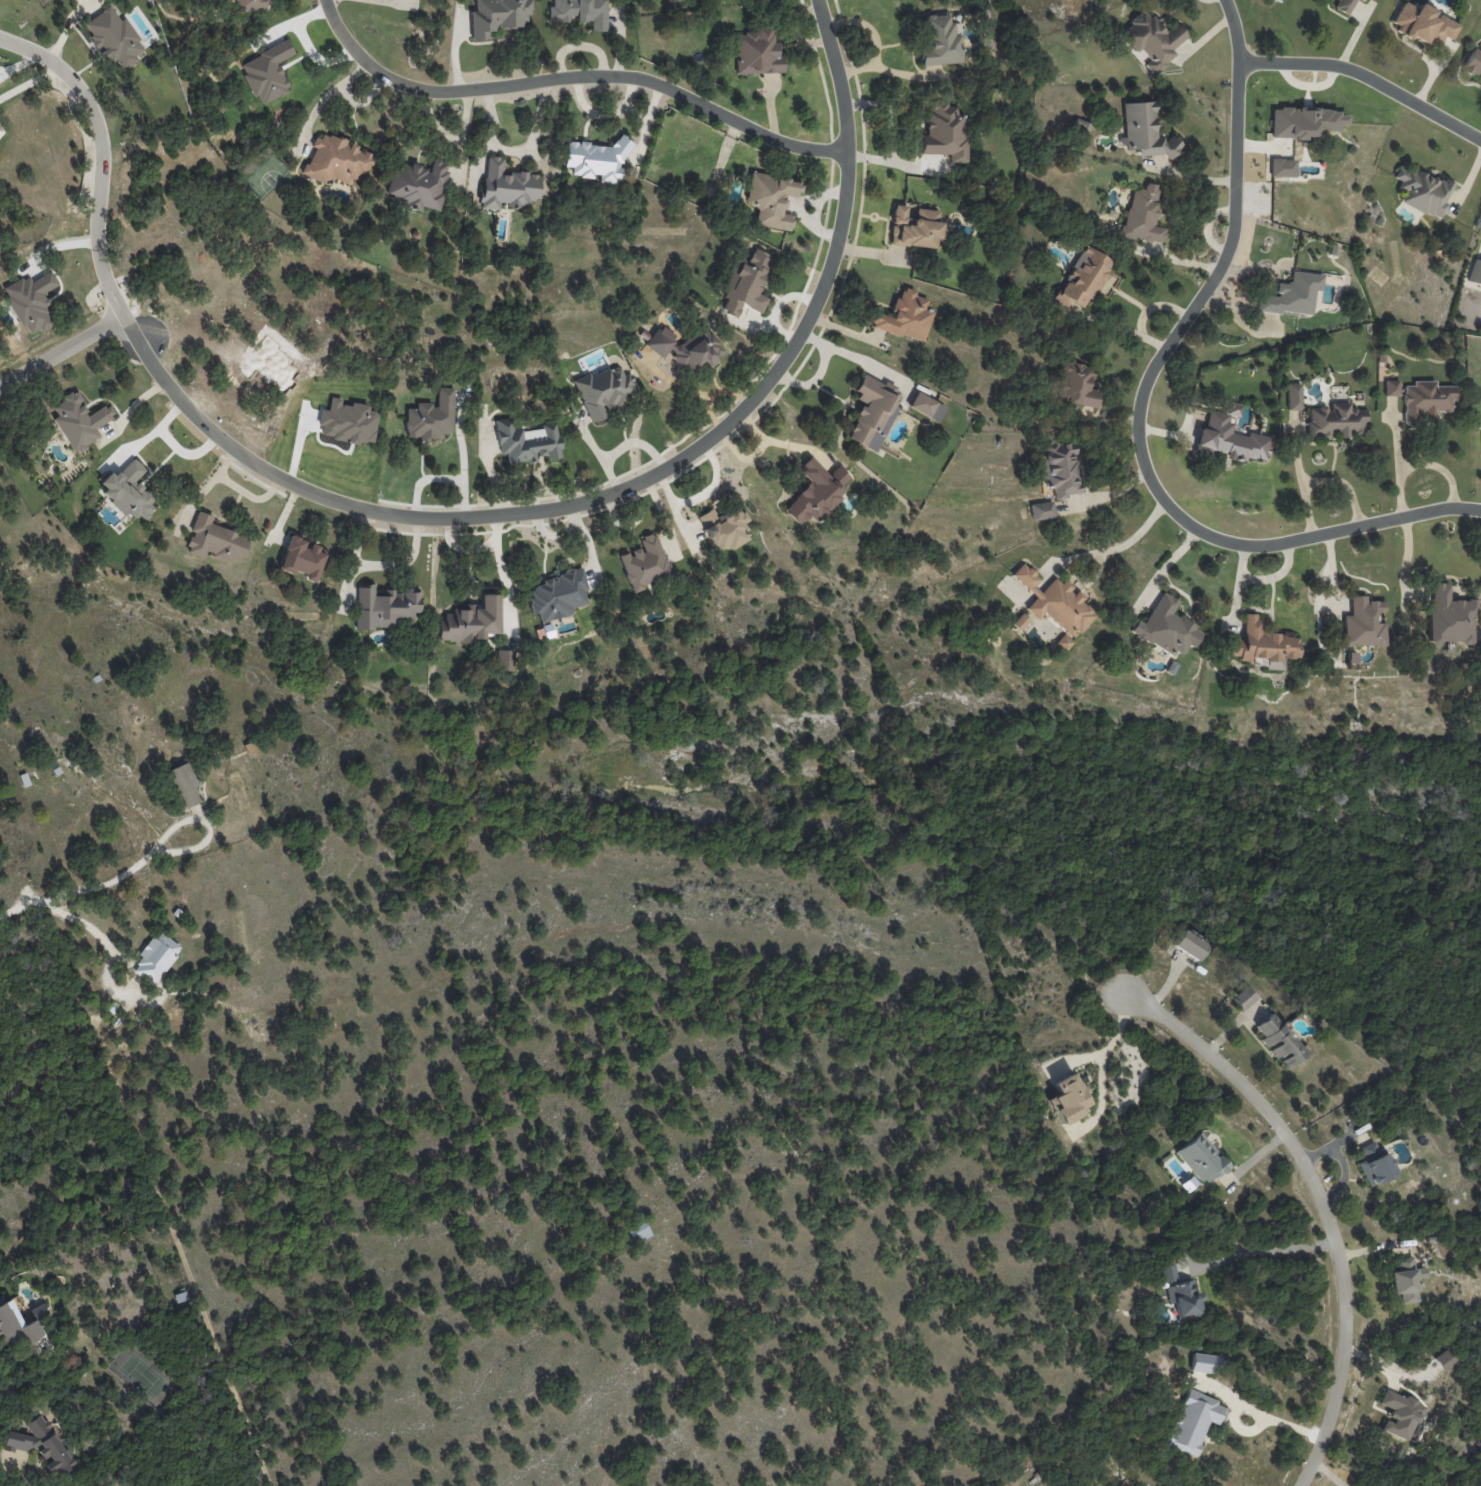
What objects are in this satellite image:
building: (1361, 0)
building: (249, 5)
building: (1344, 5)
building: (579, 12)
building: (497, 15)
building: (1423, 24)
road: (877, 28)
road: (1235, 30)
building: (114, 37)
building: (940, 40)
building: (1152, 40)
building: (756, 52)
building: (1473, 64)
road: (573, 75)
road: (1367, 75)
road: (325, 94)
building: (1306, 122)
road: (892, 127)
building: (1144, 130)
building: (944, 133)
road: (517, 150)
building: (335, 160)
building: (596, 160)
building: (1282, 167)
road: (1191, 177)
building: (417, 184)
building: (506, 186)
building: (1422, 192)
building: (770, 199)
building: (1142, 215)
building: (914, 227)
building: (1475, 272)
building: (1082, 280)
building: (746, 283)
building: (1292, 295)
building: (30, 302)
road: (778, 305)
building: (905, 317)
building: (660, 340)
building: (694, 350)
road: (61, 351)
road: (853, 352)
building: (1076, 385)
building: (1391, 388)
building: (603, 391)
building: (1293, 395)
building: (1425, 400)
building: (926, 406)
building: (871, 411)
building: (431, 417)
building: (79, 421)
building: (1334, 421)
building: (1229, 437)
road: (154, 438)
road: (1141, 438)
road: (782, 440)
building: (526, 441)
road: (601, 451)
road: (188, 459)
road: (1398, 465)
building: (1059, 468)
road: (1439, 468)
building: (127, 490)
building: (817, 491)
building: (1041, 510)
road: (461, 517)
building: (723, 527)
building: (214, 540)
road: (1122, 546)
building: (302, 558)
building: (644, 563)
road: (504, 572)
building: (557, 595)
building: (1055, 602)
building: (384, 607)
building: (1450, 616)
building: (470, 621)
building: (1020, 621)
building: (1362, 623)
building: (1165, 627)
building: (1062, 642)
building: (1262, 644)
building: (504, 660)
building: (184, 785)
road: (1096, 803)
road: (206, 824)
road: (79, 888)
road: (78, 925)
building: (1189, 945)
building: (156, 957)
building: (1243, 997)
building: (1279, 1041)
building: (1066, 1098)
building: (1201, 1159)
building: (1374, 1163)
road: (1324, 1202)
building: (637, 1231)
road: (1265, 1251)
building: (1405, 1279)
building: (1180, 1292)
building: (15, 1326)
building: (1445, 1359)
building: (1204, 1363)
road: (17, 1383)
building: (1398, 1414)
road: (1274, 1419)
building: (1191, 1421)
building: (42, 1445)

